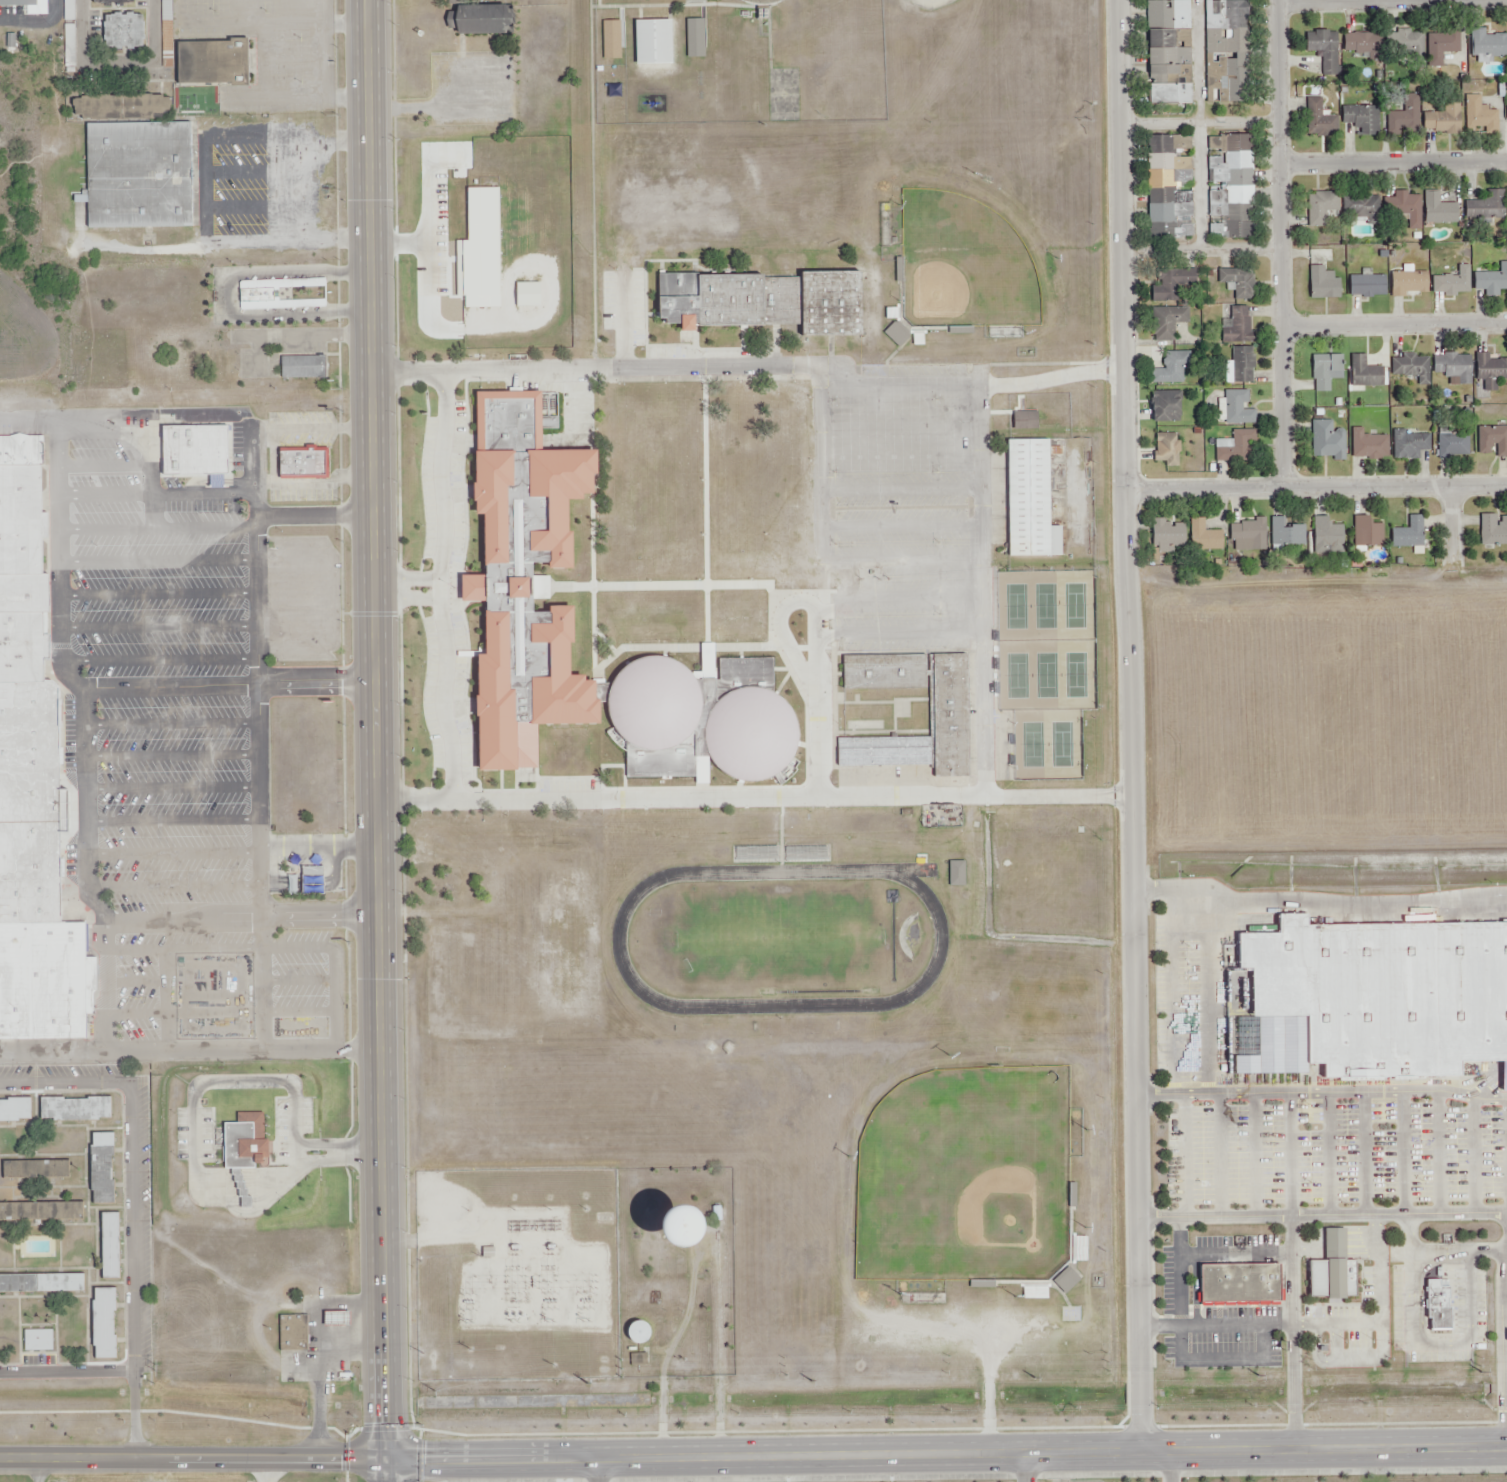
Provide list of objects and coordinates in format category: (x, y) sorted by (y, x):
building: (114, 1)
road: (1361, 1)
building: (761, 2)
building: (20, 3)
building: (70, 9)
building: (487, 19)
building: (126, 30)
building: (693, 39)
building: (611, 42)
building: (655, 42)
building: (1360, 44)
building: (1409, 44)
building: (1488, 45)
building: (1441, 47)
building: (1325, 52)
building: (1224, 53)
building: (1168, 54)
road: (116, 63)
building: (213, 64)
building: (1506, 112)
building: (1403, 114)
building: (1478, 115)
building: (1360, 118)
building: (1443, 120)
building: (1316, 121)
road: (1200, 123)
road: (1201, 124)
road: (1394, 158)
building: (139, 177)
building: (1228, 190)
building: (1170, 191)
building: (1485, 206)
building: (1318, 209)
building: (1407, 209)
building: (1360, 210)
building: (1439, 211)
road: (1282, 244)
road: (1232, 250)
park: (971, 255)
building: (1492, 280)
building: (1237, 283)
building: (1452, 283)
building: (266, 284)
building: (1166, 285)
building: (1408, 285)
building: (1322, 286)
building: (1367, 286)
building: (764, 303)
road: (1395, 320)
building: (1165, 323)
building: (1236, 328)
building: (303, 366)
road: (808, 366)
building: (1241, 367)
building: (1453, 369)
building: (1169, 370)
building: (1411, 370)
building: (1323, 372)
building: (1488, 372)
building: (1364, 374)
building: (1165, 408)
building: (1236, 409)
building: (1491, 442)
building: (1326, 443)
building: (1366, 445)
building: (1407, 446)
building: (1452, 447)
building: (1237, 450)
building: (195, 452)
building: (304, 464)
road: (1316, 488)
building: (1028, 500)
road: (1453, 523)
building: (1491, 531)
building: (1366, 533)
building: (1287, 535)
building: (1407, 535)
building: (1247, 536)
building: (1167, 537)
building: (1327, 537)
building: (1204, 538)
building: (529, 575)
road: (407, 586)
road: (440, 587)
park: (1041, 670)
building: (657, 702)
building: (947, 714)
road: (1133, 725)
building: (755, 733)
road: (376, 741)
building: (34, 779)
road: (834, 798)
track: (619, 938)
building: (1377, 997)
building: (16, 1110)
building: (79, 1110)
building: (247, 1142)
road: (316, 1151)
building: (104, 1168)
building: (36, 1170)
park: (965, 1178)
road: (133, 1203)
building: (42, 1213)
water tower: (689, 1223)
building: (108, 1247)
building: (1334, 1270)
power substation: (514, 1274)
building: (42, 1284)
building: (1239, 1285)
building: (1439, 1306)
power tower: (585, 1320)
power tower: (550, 1322)
building: (106, 1324)
power tower: (469, 1324)
building: (293, 1334)
building: (37, 1342)
power tower: (468, 1348)
power tower: (420, 1352)
power tower: (552, 1364)
power tower: (154, 1367)
power tower: (1480, 1372)
power tower: (1258, 1374)
power tower: (1031, 1376)
power tower: (807, 1380)
power tower: (585, 1381)
power tower: (432, 1390)
traffic signals: (386, 1456)
road: (753, 1456)
road: (1026, 1467)
road: (1168, 1467)
road: (594, 1469)
road: (37, 1470)

